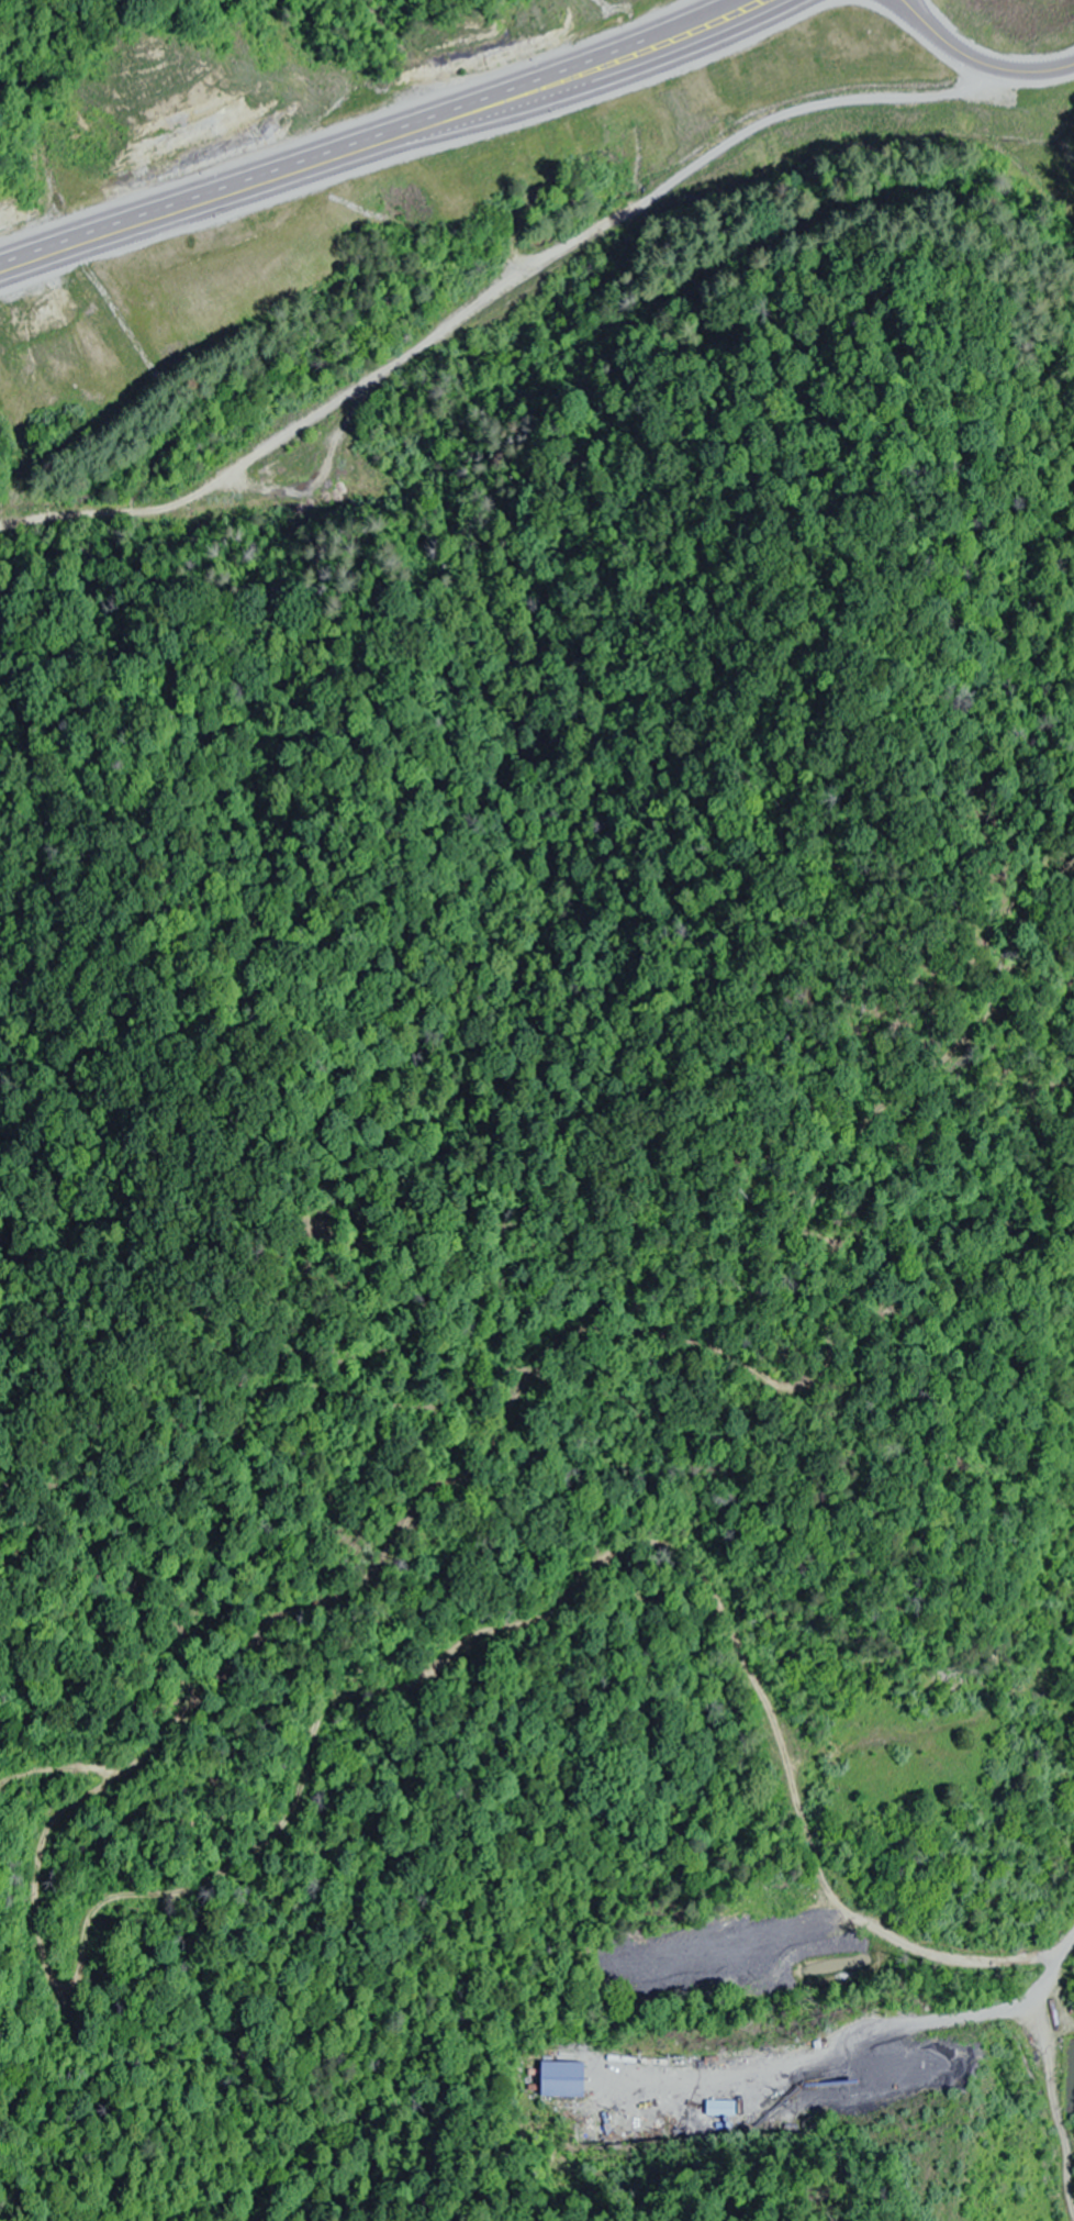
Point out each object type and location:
building: (735, 1)
road: (975, 62)
road: (382, 142)
road: (483, 286)
road: (1064, 1951)
building: (563, 2079)

